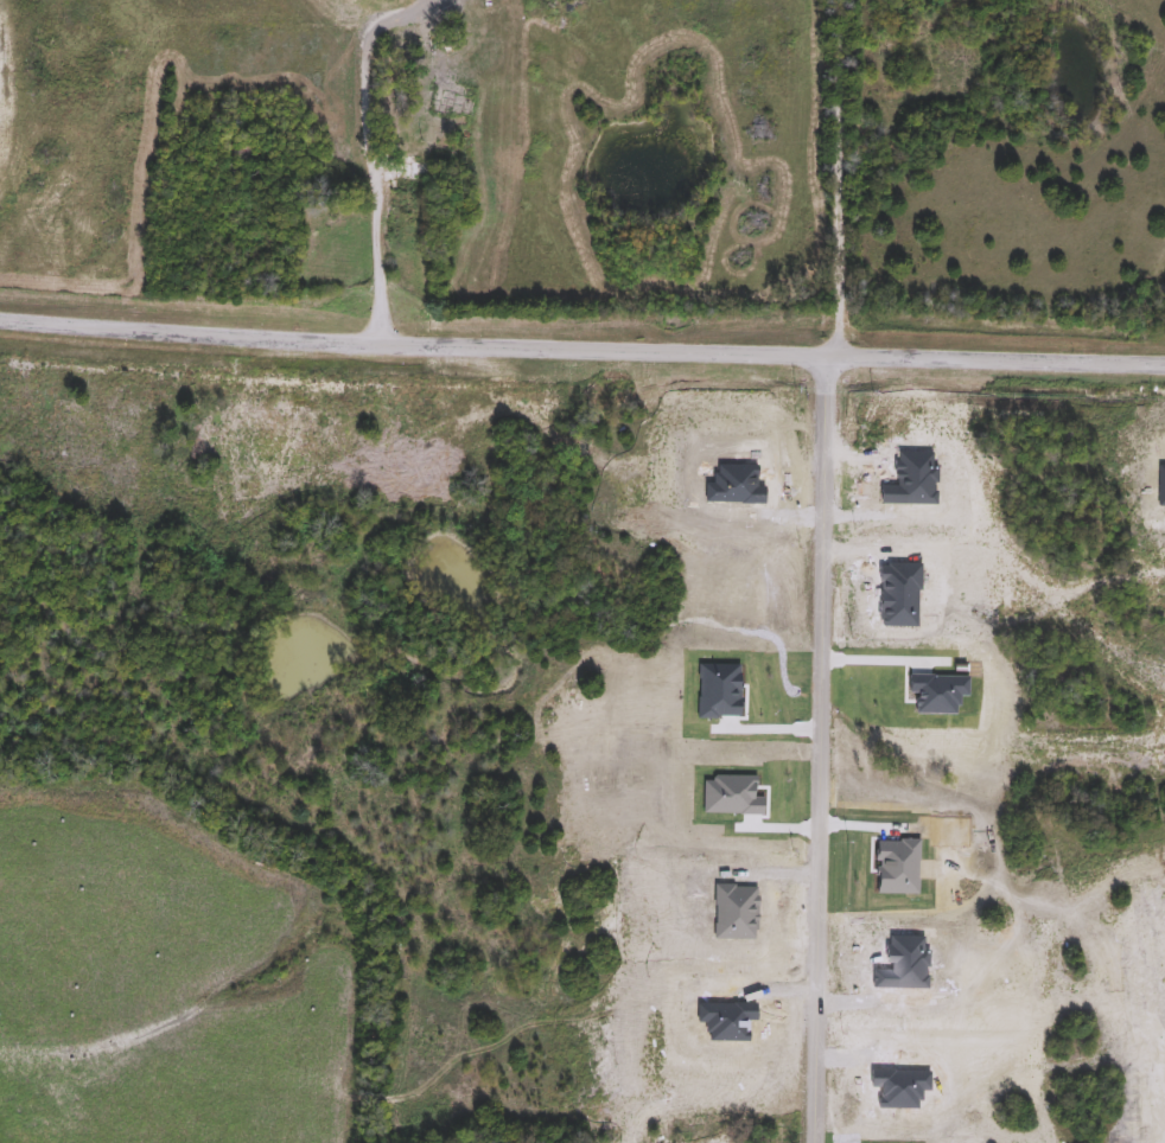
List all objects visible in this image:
road: (370, 152)
road: (838, 175)
building: (408, 190)
road: (581, 355)
road: (825, 747)

